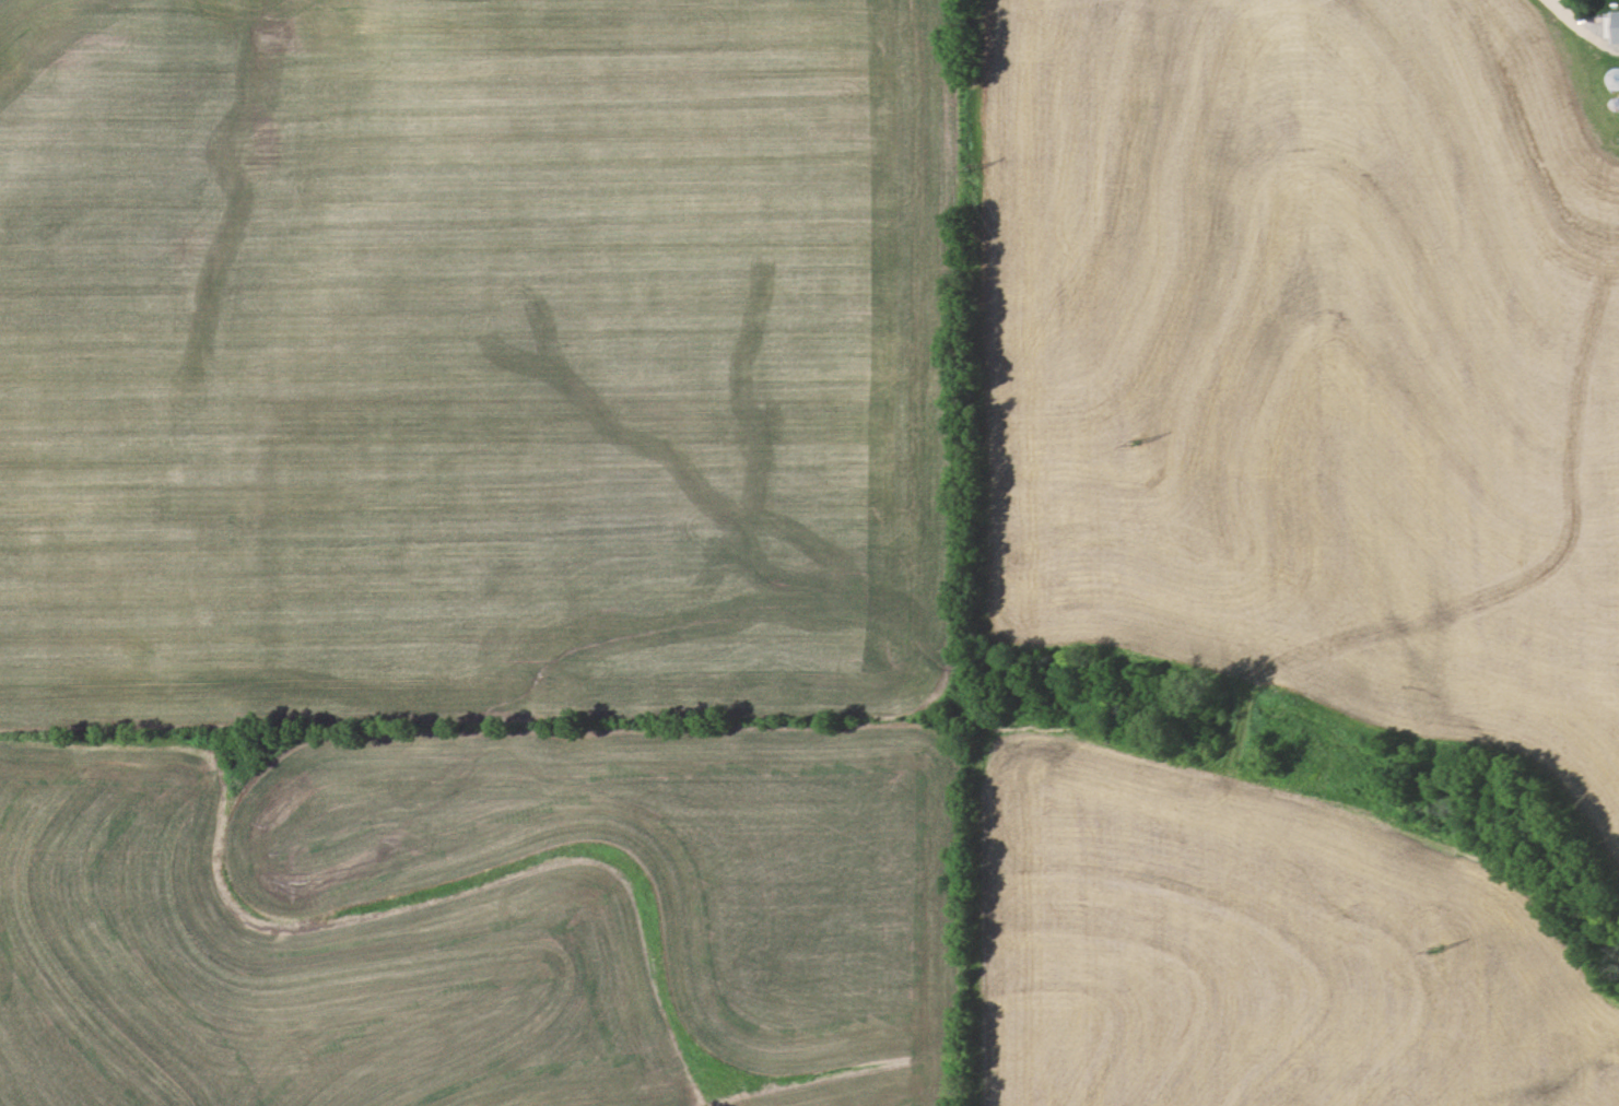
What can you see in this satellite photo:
building: (1607, 25)
road: (1586, 27)
building: (1615, 81)
power tower: (974, 168)
power tower: (1138, 445)
power tower: (1435, 948)

